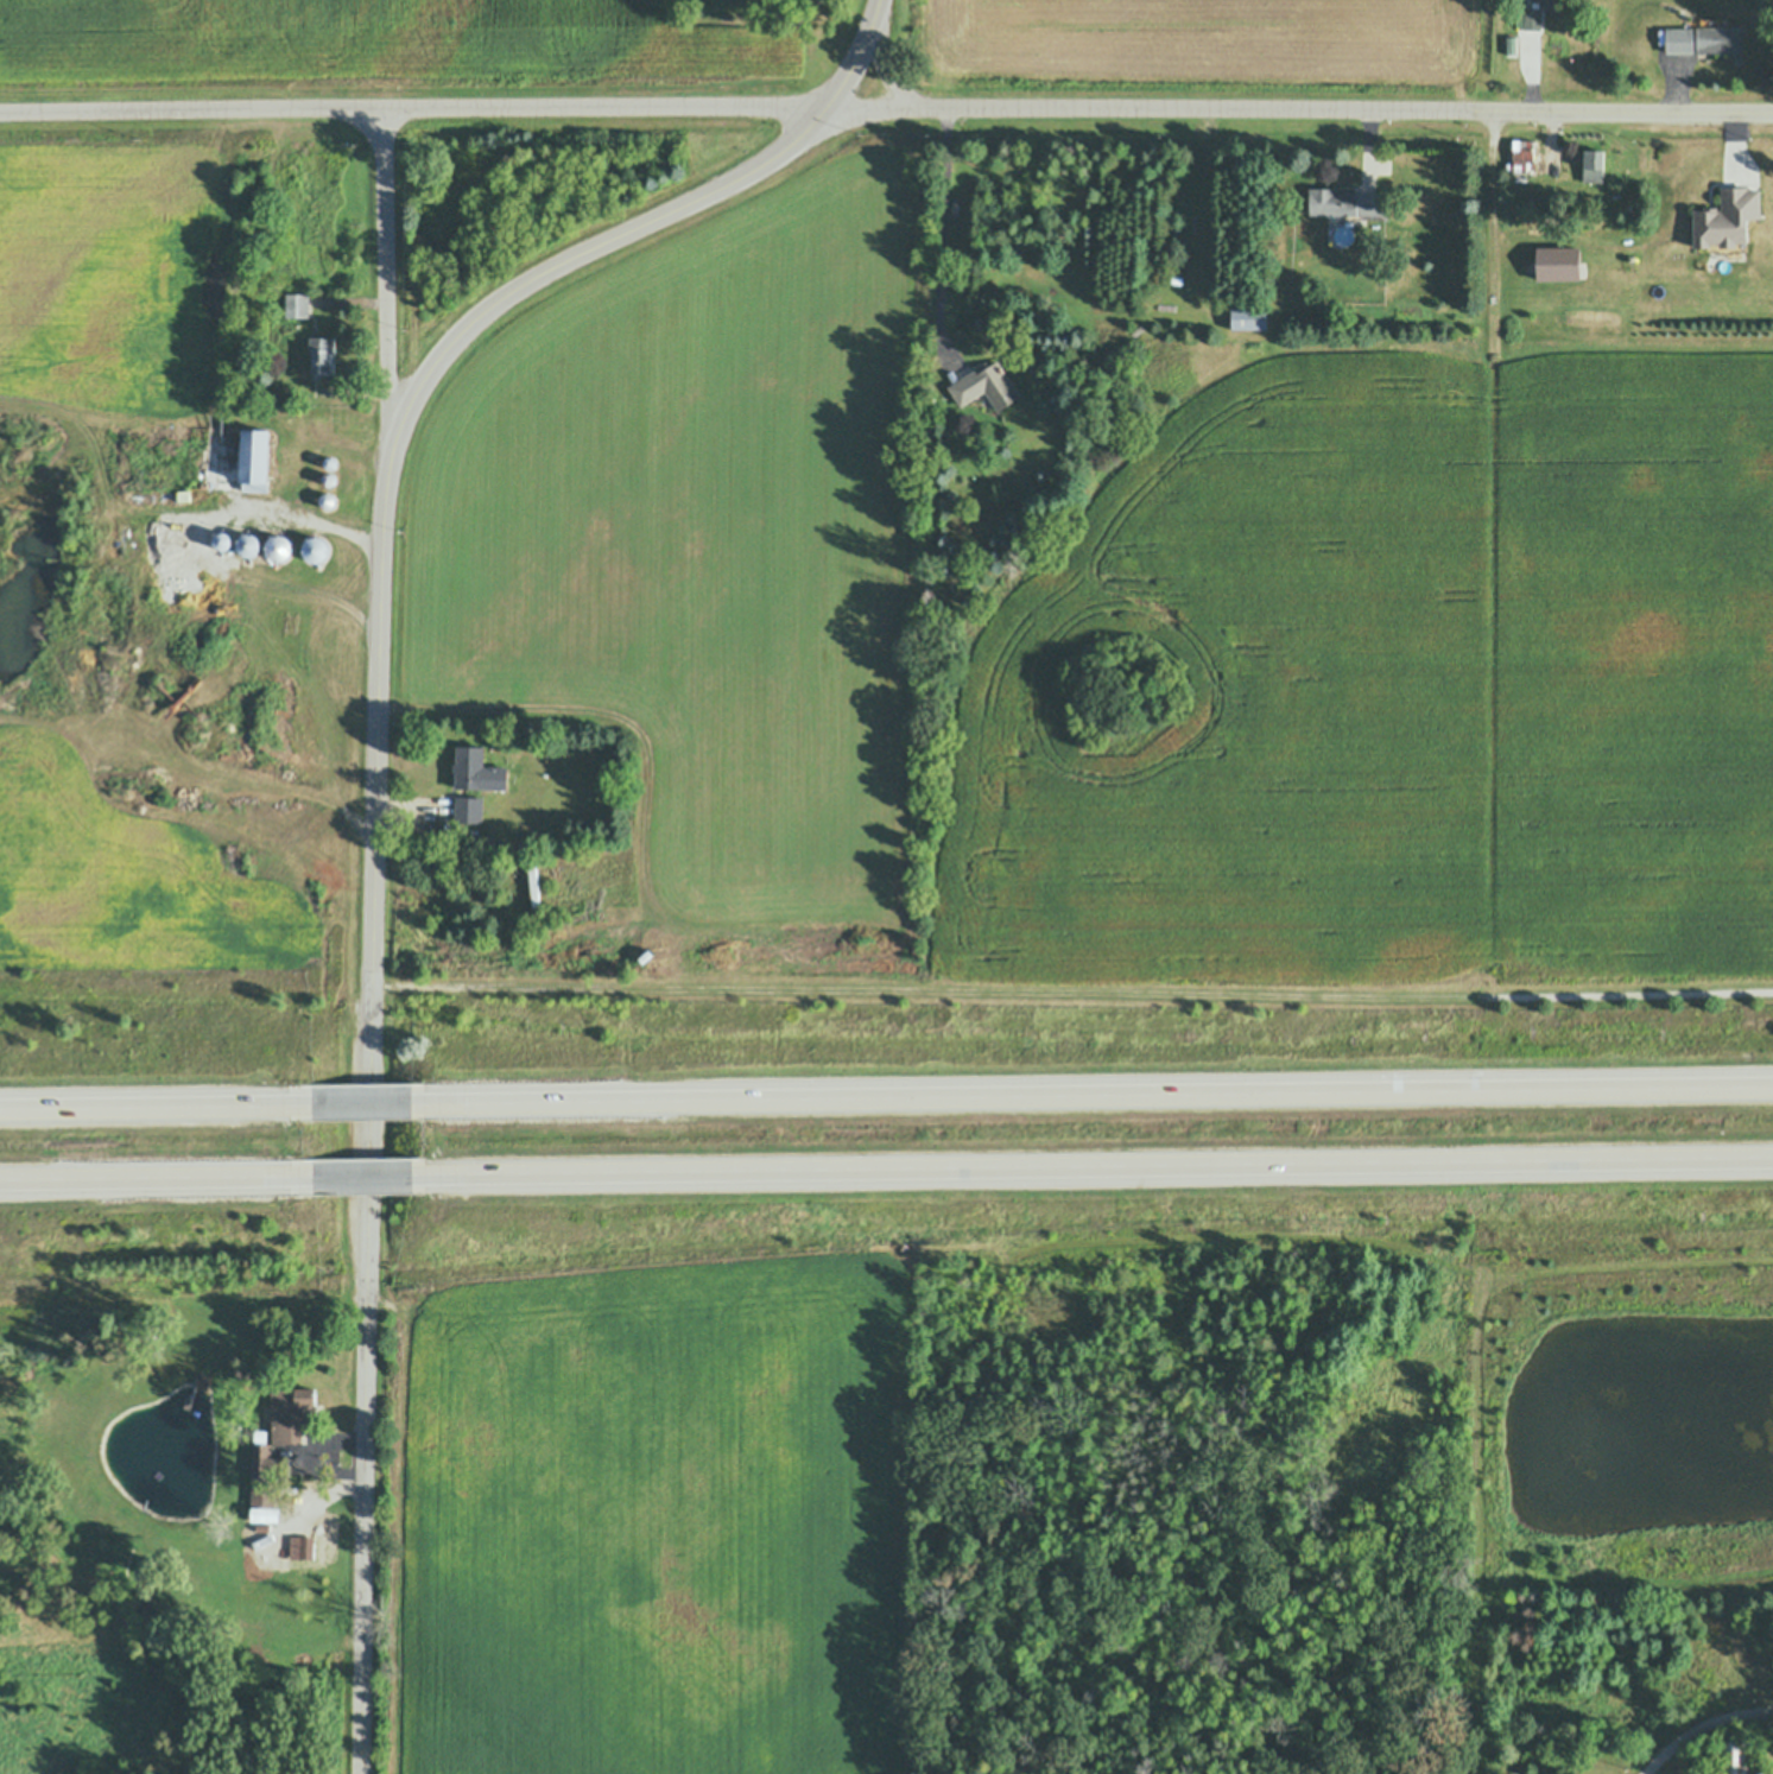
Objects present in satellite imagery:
building: (1543, 0)
building: (1533, 19)
building: (1704, 39)
building: (1511, 44)
road: (888, 68)
road: (460, 109)
road: (1347, 110)
building: (1524, 157)
building: (1594, 166)
building: (1345, 202)
road: (1202, 203)
building: (1727, 216)
road: (935, 232)
building: (1343, 234)
road: (1490, 245)
road: (387, 271)
road: (355, 304)
building: (298, 305)
building: (1008, 317)
building: (1248, 317)
building: (1060, 329)
building: (324, 355)
building: (253, 366)
building: (984, 386)
road: (356, 393)
building: (328, 460)
building: (257, 461)
building: (328, 479)
building: (184, 495)
building: (327, 499)
building: (151, 520)
building: (247, 541)
building: (278, 546)
building: (315, 549)
road: (233, 551)
building: (289, 625)
road: (378, 767)
building: (477, 771)
building: (469, 807)
building: (490, 842)
building: (534, 886)
road: (1072, 994)
road: (1100, 1095)
road: (373, 1104)
road: (159, 1108)
road: (1101, 1164)
road: (374, 1174)
road: (159, 1178)
building: (203, 1380)
building: (191, 1399)
building: (289, 1414)
building: (267, 1472)
building: (144, 1506)
building: (164, 1628)
building: (166, 1636)
building: (203, 1642)
road: (1703, 1728)
building: (1736, 1757)

